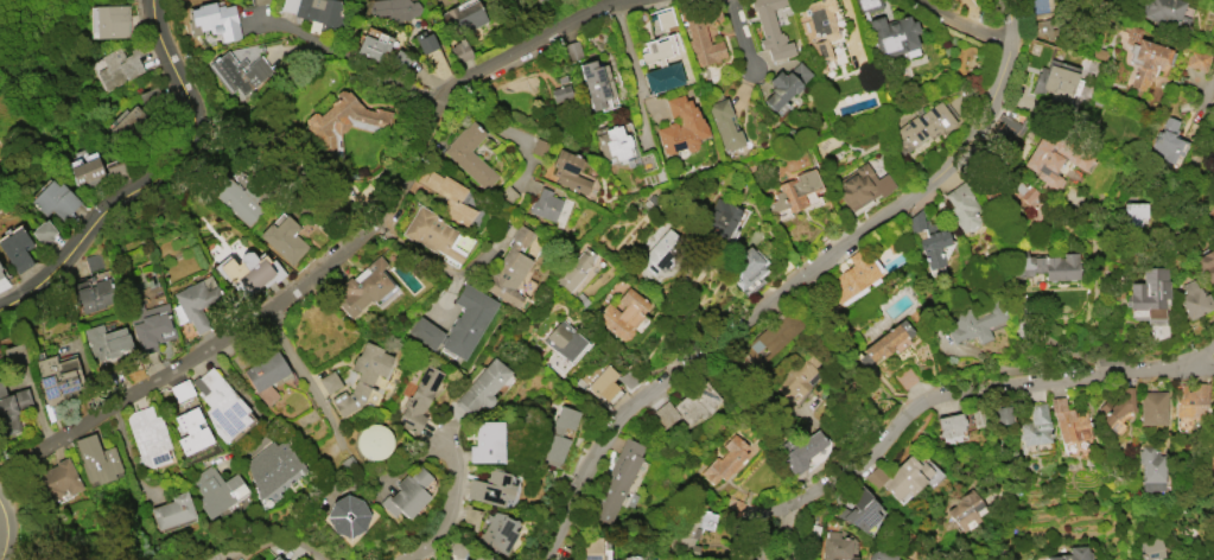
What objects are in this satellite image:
building: (258, 1)
building: (536, 1)
building: (952, 1)
building: (866, 5)
building: (393, 9)
building: (316, 12)
building: (1164, 12)
building: (460, 17)
building: (665, 18)
building: (112, 20)
building: (212, 20)
road: (960, 24)
building: (771, 28)
building: (818, 28)
building: (703, 34)
building: (892, 34)
road: (739, 37)
building: (424, 40)
building: (374, 45)
building: (459, 50)
building: (572, 50)
road: (629, 50)
building: (1144, 56)
building: (1197, 58)
road: (350, 61)
building: (660, 64)
building: (119, 66)
building: (239, 71)
building: (1056, 78)
building: (596, 82)
building: (784, 84)
road: (1208, 88)
building: (560, 93)
building: (125, 120)
building: (342, 121)
building: (724, 123)
building: (681, 126)
building: (923, 126)
building: (1006, 127)
building: (611, 141)
building: (1167, 141)
building: (538, 146)
building: (470, 154)
building: (1053, 159)
building: (87, 171)
building: (115, 171)
building: (568, 171)
road: (158, 178)
building: (860, 186)
building: (794, 193)
building: (506, 195)
building: (449, 196)
building: (1028, 197)
building: (239, 198)
building: (55, 199)
building: (545, 204)
building: (962, 206)
building: (1133, 212)
building: (720, 217)
building: (1212, 224)
building: (43, 231)
building: (432, 233)
building: (284, 238)
building: (929, 240)
road: (355, 241)
building: (15, 248)
road: (414, 252)
building: (657, 252)
building: (1044, 265)
building: (1206, 265)
building: (744, 266)
building: (509, 268)
building: (573, 268)
building: (248, 271)
building: (0, 274)
building: (852, 276)
road: (789, 284)
building: (362, 287)
building: (1150, 292)
building: (91, 293)
road: (450, 299)
building: (1194, 299)
building: (196, 300)
building: (623, 313)
building: (457, 323)
building: (974, 324)
building: (150, 325)
building: (773, 335)
building: (564, 339)
building: (104, 341)
building: (885, 342)
road: (1208, 363)
building: (266, 375)
building: (796, 376)
building: (56, 377)
building: (905, 377)
building: (362, 378)
building: (329, 381)
building: (603, 383)
building: (482, 386)
building: (180, 389)
road: (951, 396)
building: (418, 399)
building: (1189, 400)
building: (221, 403)
building: (688, 406)
building: (1117, 406)
building: (1151, 407)
building: (12, 408)
building: (1069, 420)
road: (332, 425)
building: (1035, 425)
building: (948, 426)
building: (191, 431)
building: (559, 434)
building: (147, 435)
building: (373, 440)
building: (487, 443)
building: (800, 448)
road: (18, 456)
road: (127, 456)
building: (95, 458)
building: (726, 459)
building: (1213, 465)
building: (272, 466)
building: (1152, 467)
building: (900, 477)
building: (57, 478)
building: (617, 479)
building: (490, 488)
building: (216, 490)
building: (406, 494)
building: (733, 505)
road: (449, 509)
building: (859, 509)
building: (171, 510)
building: (966, 510)
road: (19, 511)
building: (345, 515)
building: (470, 516)
road: (4, 530)
building: (497, 530)
building: (694, 530)
road: (789, 534)
road: (265, 535)
building: (457, 547)
building: (837, 547)
building: (1151, 547)
building: (593, 548)
road: (743, 549)
building: (882, 553)
building: (1073, 554)
building: (633, 556)
building: (275, 558)
building: (479, 558)
building: (163, 559)
building: (469, 559)

